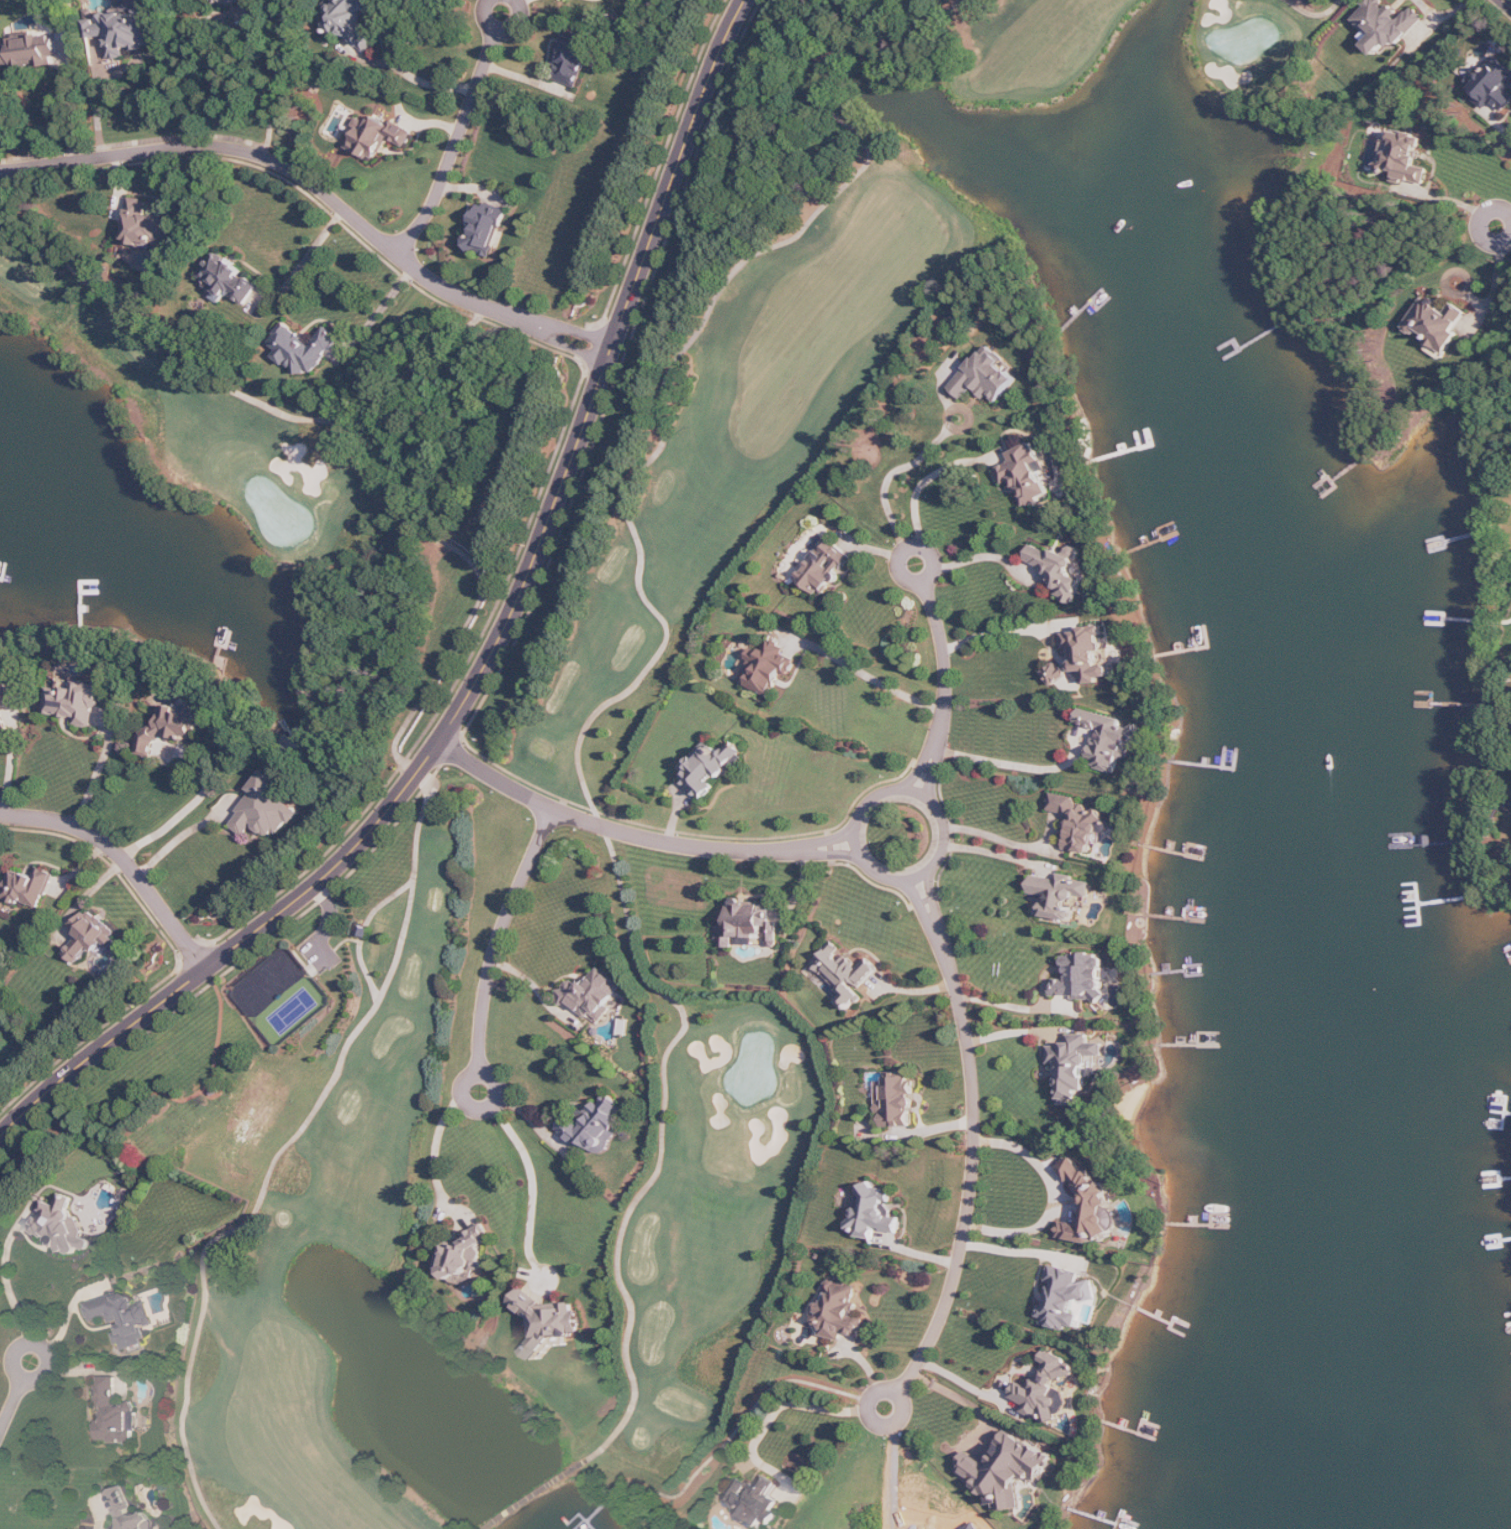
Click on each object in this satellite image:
road: (523, 2)
road: (1508, 2)
building: (249, 8)
road: (1317, 13)
building: (351, 22)
building: (1386, 25)
road: (503, 30)
building: (122, 31)
park: (1252, 43)
building: (30, 51)
road: (182, 66)
road: (409, 74)
road: (278, 79)
building: (1493, 84)
road: (98, 108)
road: (67, 111)
road: (1502, 122)
building: (378, 137)
road: (454, 146)
building: (1406, 158)
road: (322, 190)
building: (148, 226)
building: (487, 230)
road: (1510, 232)
road: (1510, 233)
road: (307, 258)
building: (229, 280)
road: (1490, 302)
road: (379, 311)
building: (1436, 325)
building: (304, 349)
building: (987, 376)
road: (895, 472)
building: (1027, 474)
road: (922, 483)
road: (984, 555)
building: (826, 568)
building: (1060, 569)
road: (923, 581)
road: (990, 633)
road: (493, 652)
building: (1082, 657)
road: (658, 659)
building: (768, 668)
road: (870, 676)
road: (945, 687)
building: (76, 701)
building: (3, 716)
building: (173, 728)
building: (1111, 739)
road: (399, 753)
road: (11, 763)
road: (1005, 763)
park: (569, 765)
building: (711, 767)
road: (97, 775)
road: (192, 804)
building: (269, 809)
road: (676, 815)
building: (1079, 823)
road: (996, 835)
road: (638, 836)
road: (179, 839)
road: (997, 854)
road: (863, 855)
road: (123, 861)
building: (29, 887)
building: (1060, 895)
building: (744, 924)
building: (364, 929)
road: (366, 931)
parking lot: (324, 935)
road: (499, 936)
building: (93, 937)
building: (845, 974)
building: (1084, 978)
park: (269, 980)
road: (535, 986)
building: (594, 994)
building: (282, 995)
park: (282, 995)
road: (1006, 1003)
park: (294, 1010)
road: (1015, 1032)
building: (1076, 1065)
building: (897, 1100)
road: (483, 1108)
building: (596, 1126)
road: (974, 1139)
road: (435, 1148)
road: (534, 1181)
road: (1057, 1198)
building: (1088, 1206)
building: (876, 1214)
building: (62, 1225)
road: (1010, 1250)
building: (464, 1255)
road: (5, 1274)
building: (1066, 1298)
building: (839, 1312)
building: (124, 1318)
building: (548, 1321)
road: (39, 1345)
road: (962, 1381)
building: (1049, 1390)
road: (963, 1400)
road: (12, 1406)
road: (775, 1412)
building: (116, 1415)
road: (877, 1421)
road: (742, 1425)
building: (1008, 1470)
road: (896, 1476)
road: (540, 1493)
building: (755, 1500)
pier: (607, 1504)
building: (129, 1511)
pier: (588, 1521)

